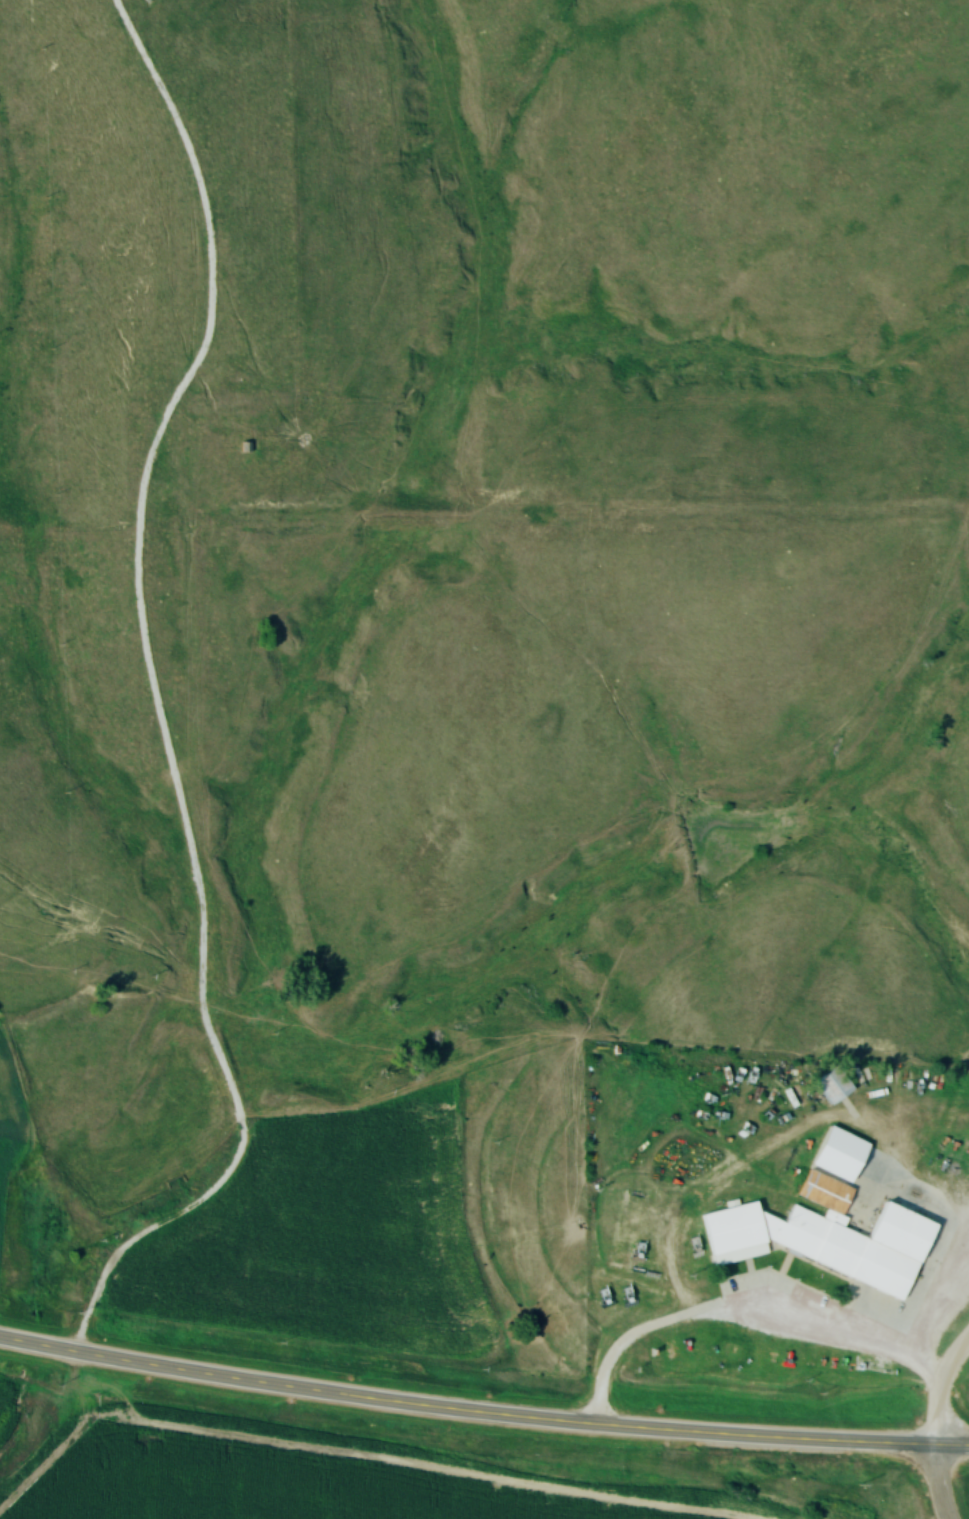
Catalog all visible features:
building: (832, 1086)
building: (823, 1237)
road: (740, 1308)
road: (939, 1386)
road: (482, 1412)
road: (937, 1482)

